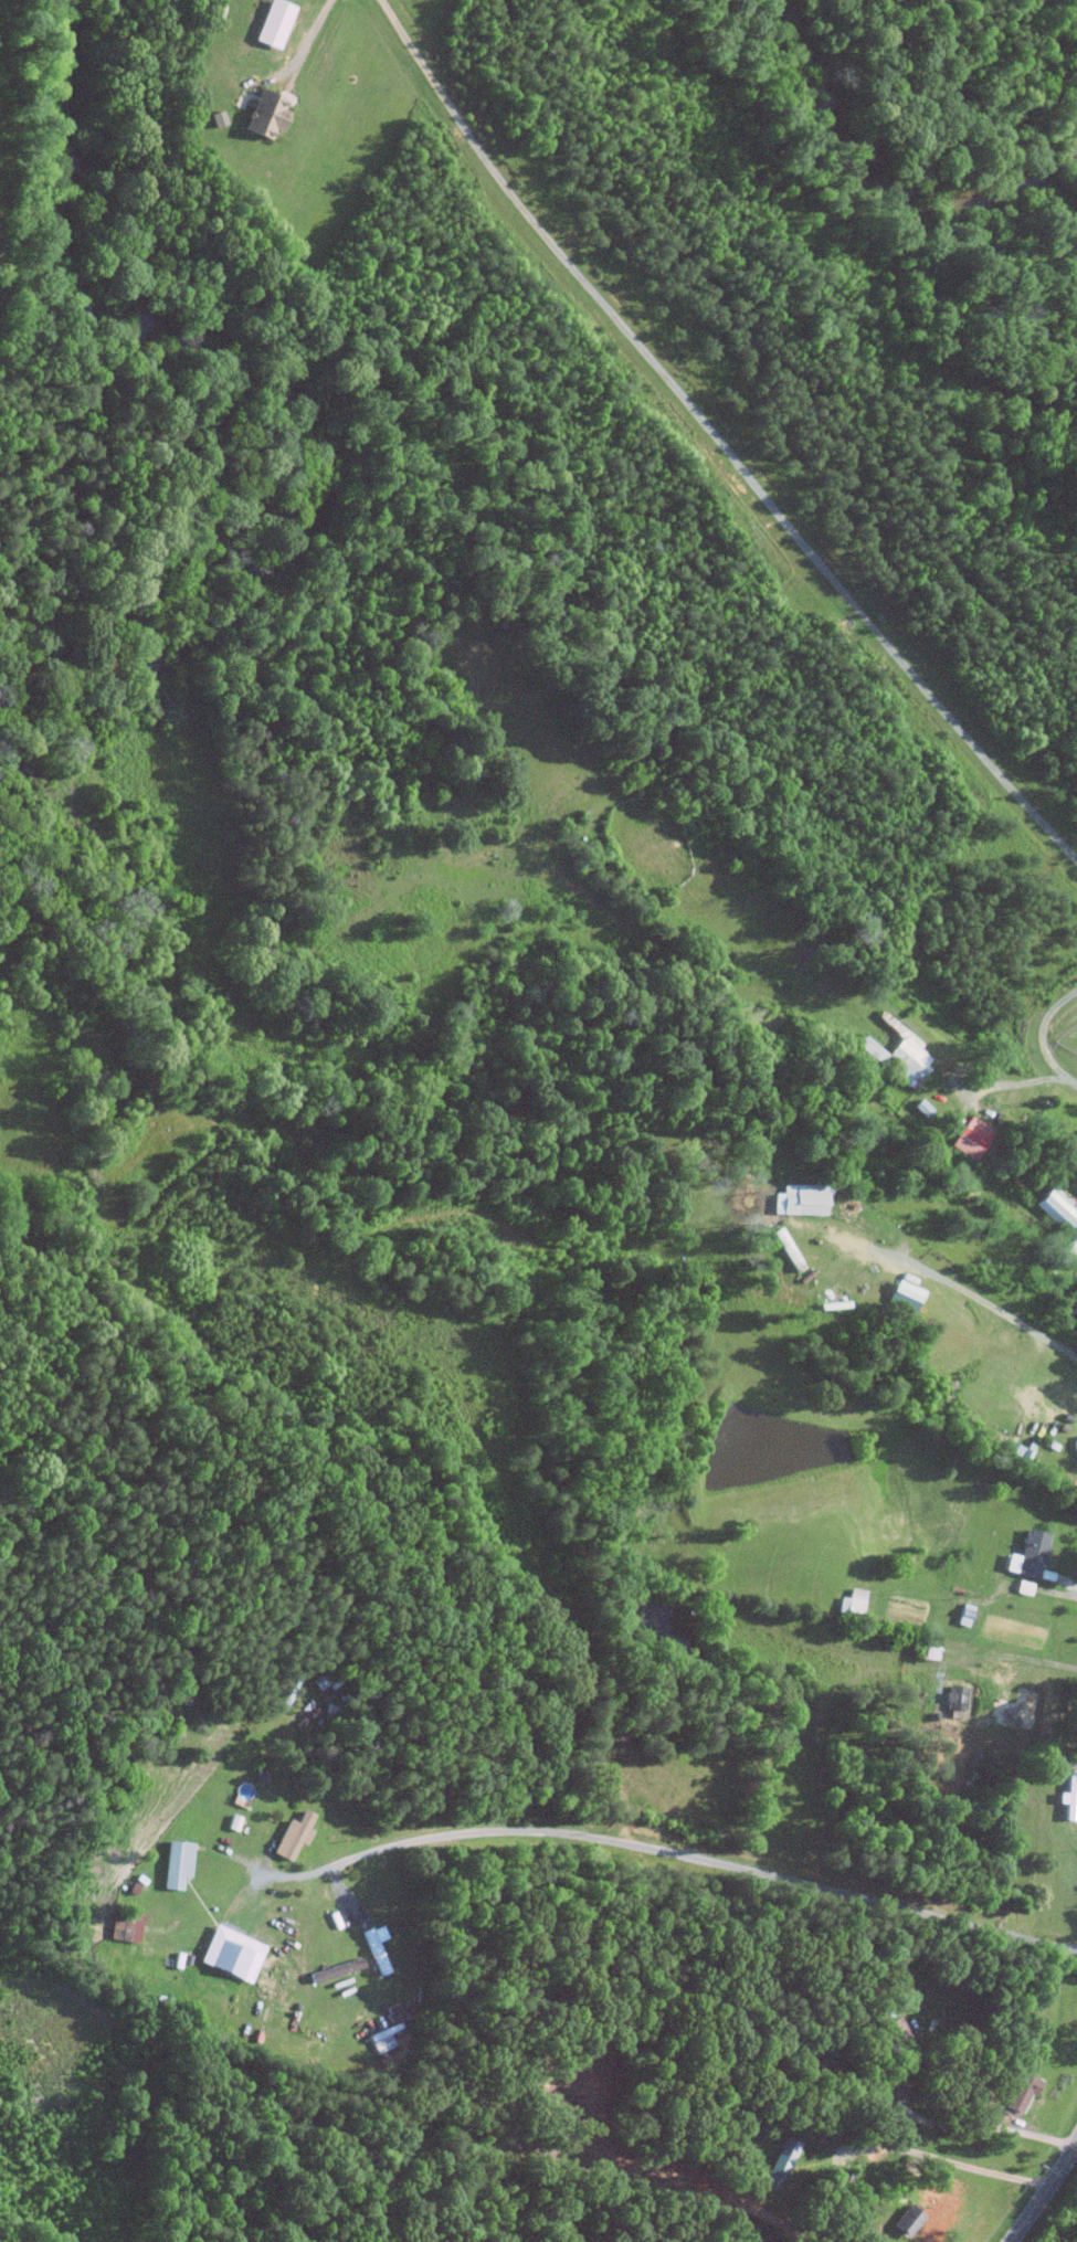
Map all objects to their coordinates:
road: (313, 31)
building: (264, 114)
road: (716, 440)
road: (1043, 1036)
building: (910, 1059)
road: (982, 1090)
building: (972, 1138)
building: (801, 1198)
building: (1057, 1206)
building: (905, 1294)
road: (983, 1300)
building: (1028, 1554)
road: (1070, 1584)
building: (852, 1603)
road: (1000, 1656)
road: (1076, 1764)
building: (293, 1834)
road: (668, 1851)
building: (177, 1863)
building: (130, 1926)
building: (231, 1953)
building: (336, 1969)
building: (890, 2030)
building: (1022, 2092)
road: (978, 2125)
road: (949, 2161)
building: (780, 2164)
road: (1044, 2191)
building: (907, 2220)
road: (759, 2231)

